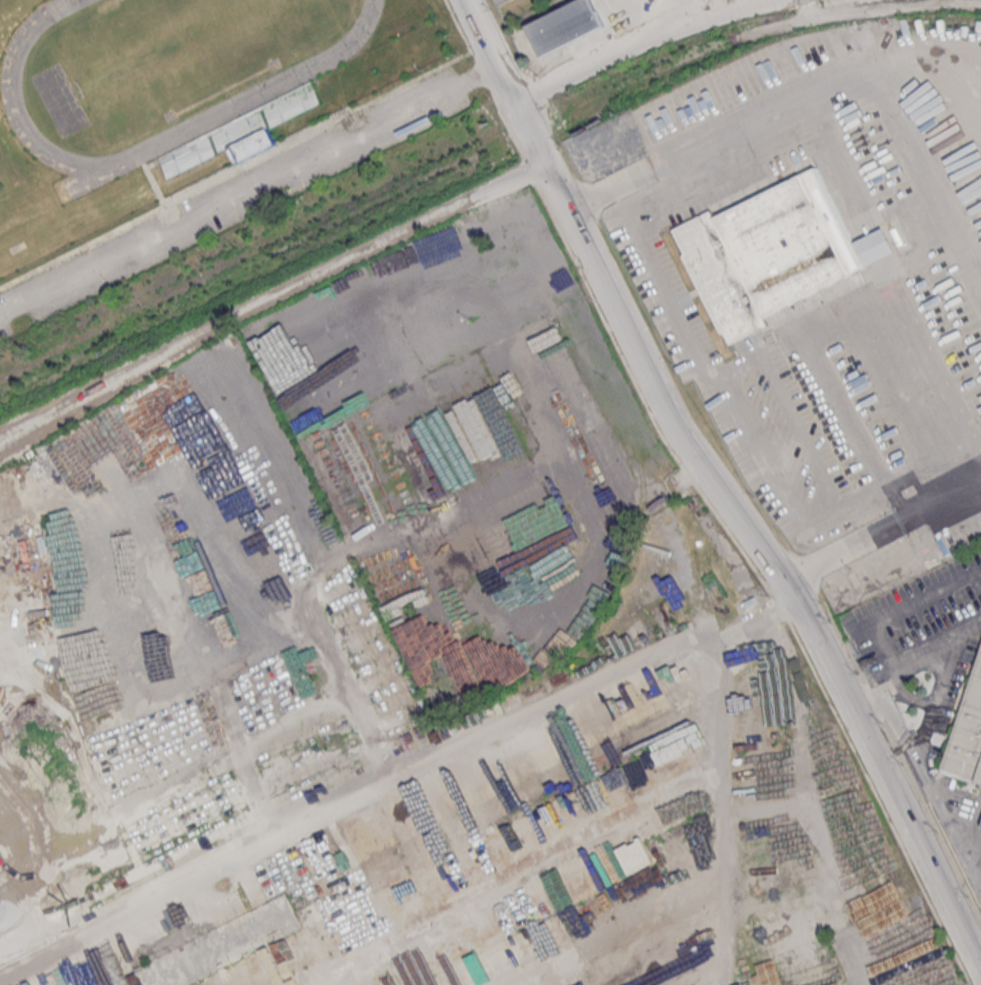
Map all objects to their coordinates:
building: (488, 0)
building: (730, 0)
building: (500, 2)
road: (679, 13)
road: (717, 19)
road: (593, 64)
road: (926, 65)
road: (978, 67)
road: (831, 89)
building: (297, 100)
park: (195, 127)
building: (216, 148)
track: (136, 153)
road: (829, 156)
road: (243, 165)
track: (91, 176)
road: (150, 179)
road: (249, 190)
building: (775, 258)
road: (271, 297)
road: (864, 309)
road: (696, 357)
road: (788, 412)
road: (722, 491)
road: (878, 542)
road: (891, 615)
road: (936, 700)
road: (357, 706)
building: (965, 736)
road: (720, 774)
road: (545, 857)
road: (385, 942)

